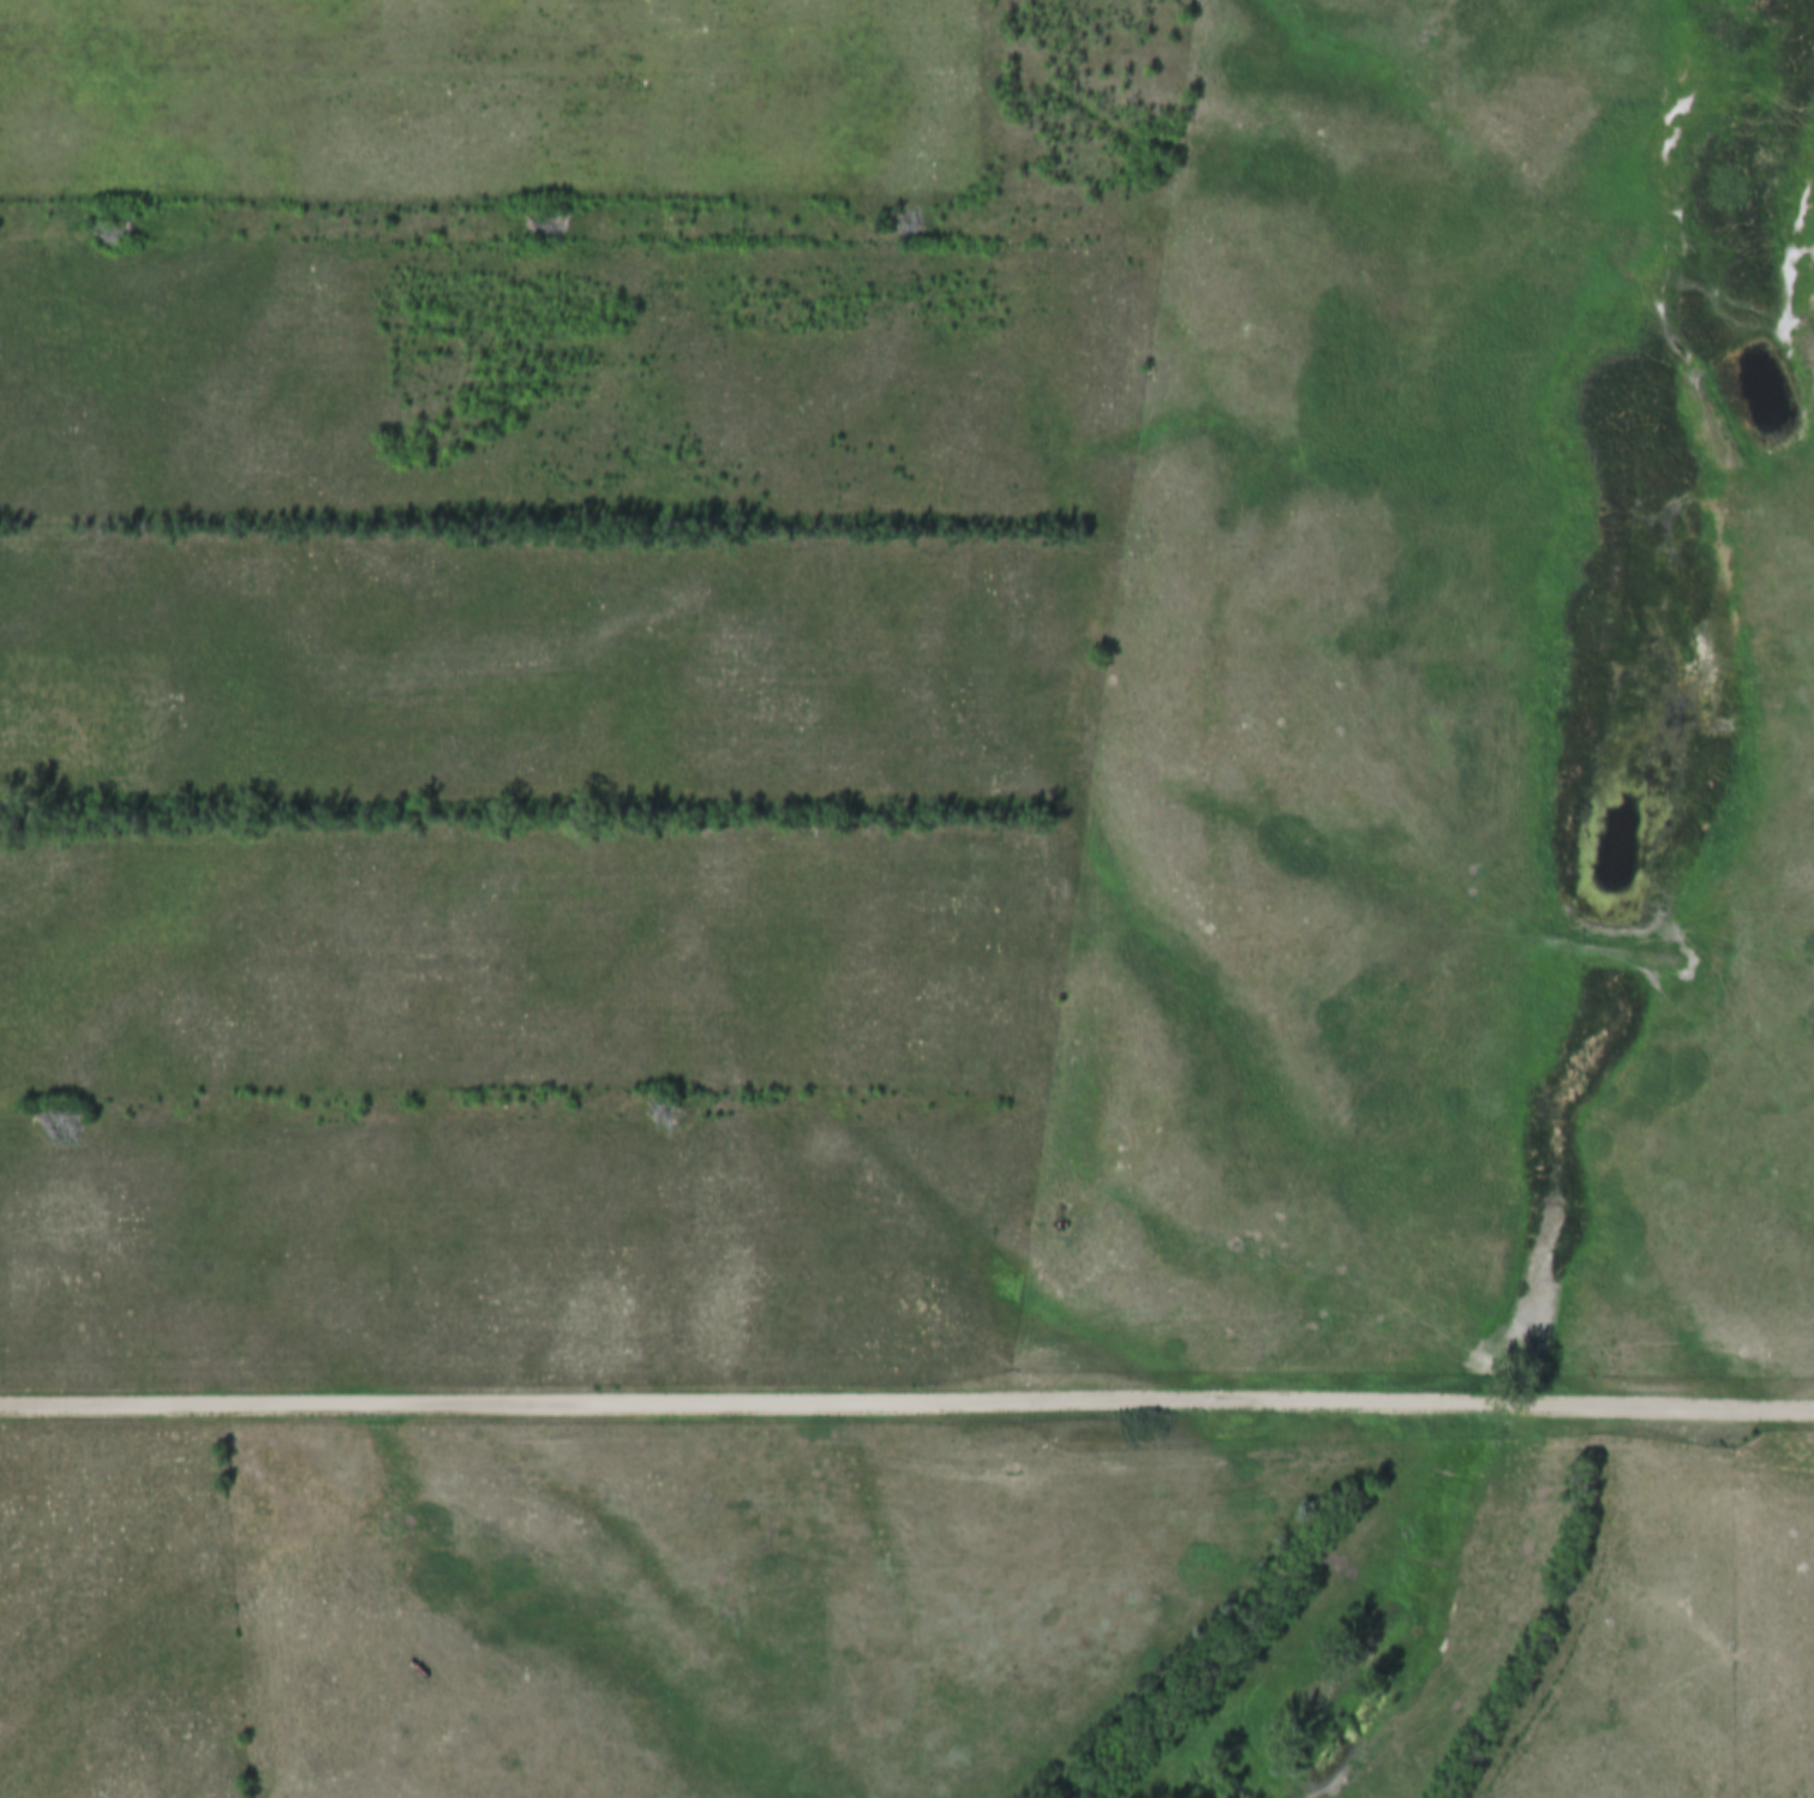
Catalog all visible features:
road: (906, 1402)

